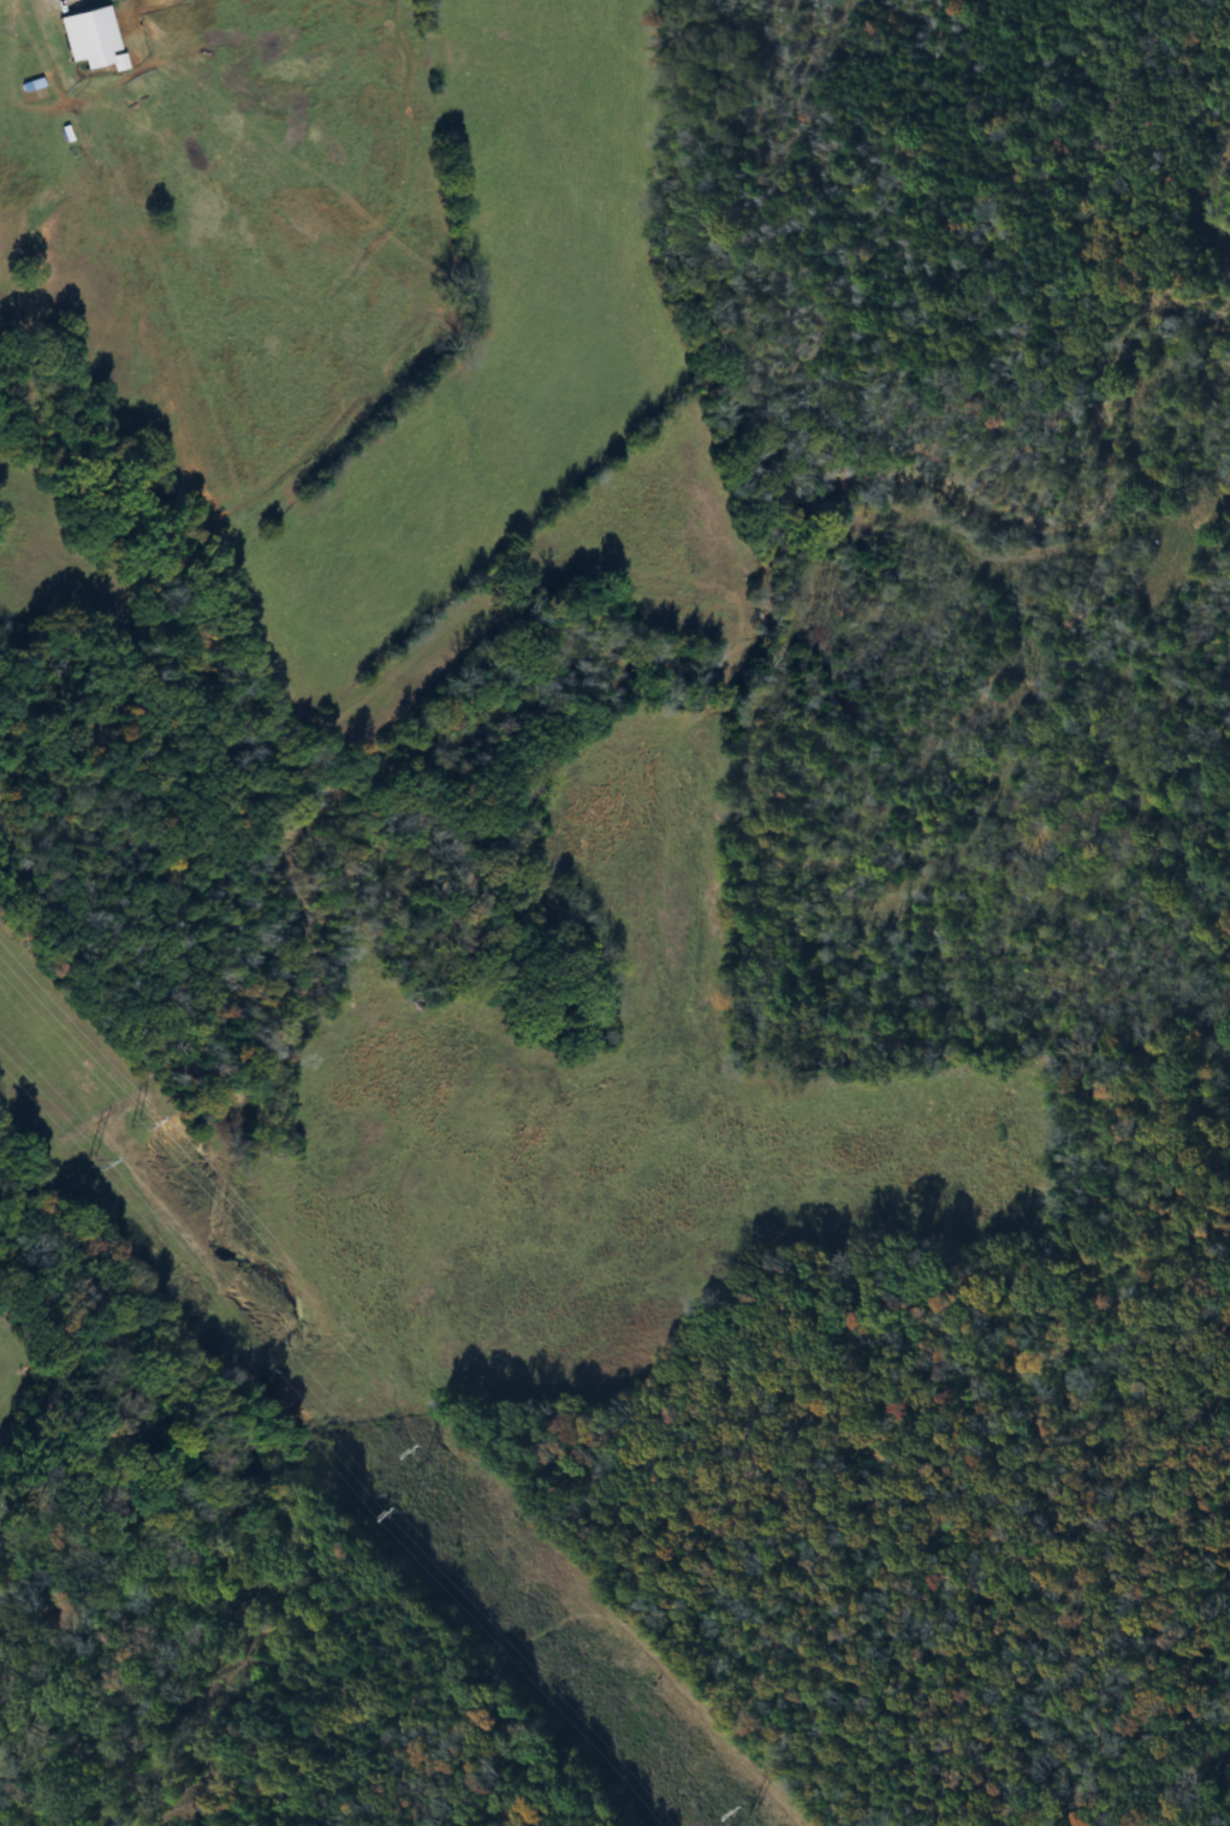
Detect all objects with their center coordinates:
building: (83, 37)
power tower: (119, 1117)
power tower: (69, 1160)
power tower: (411, 1448)
power tower: (393, 1514)
power tower: (732, 1809)

